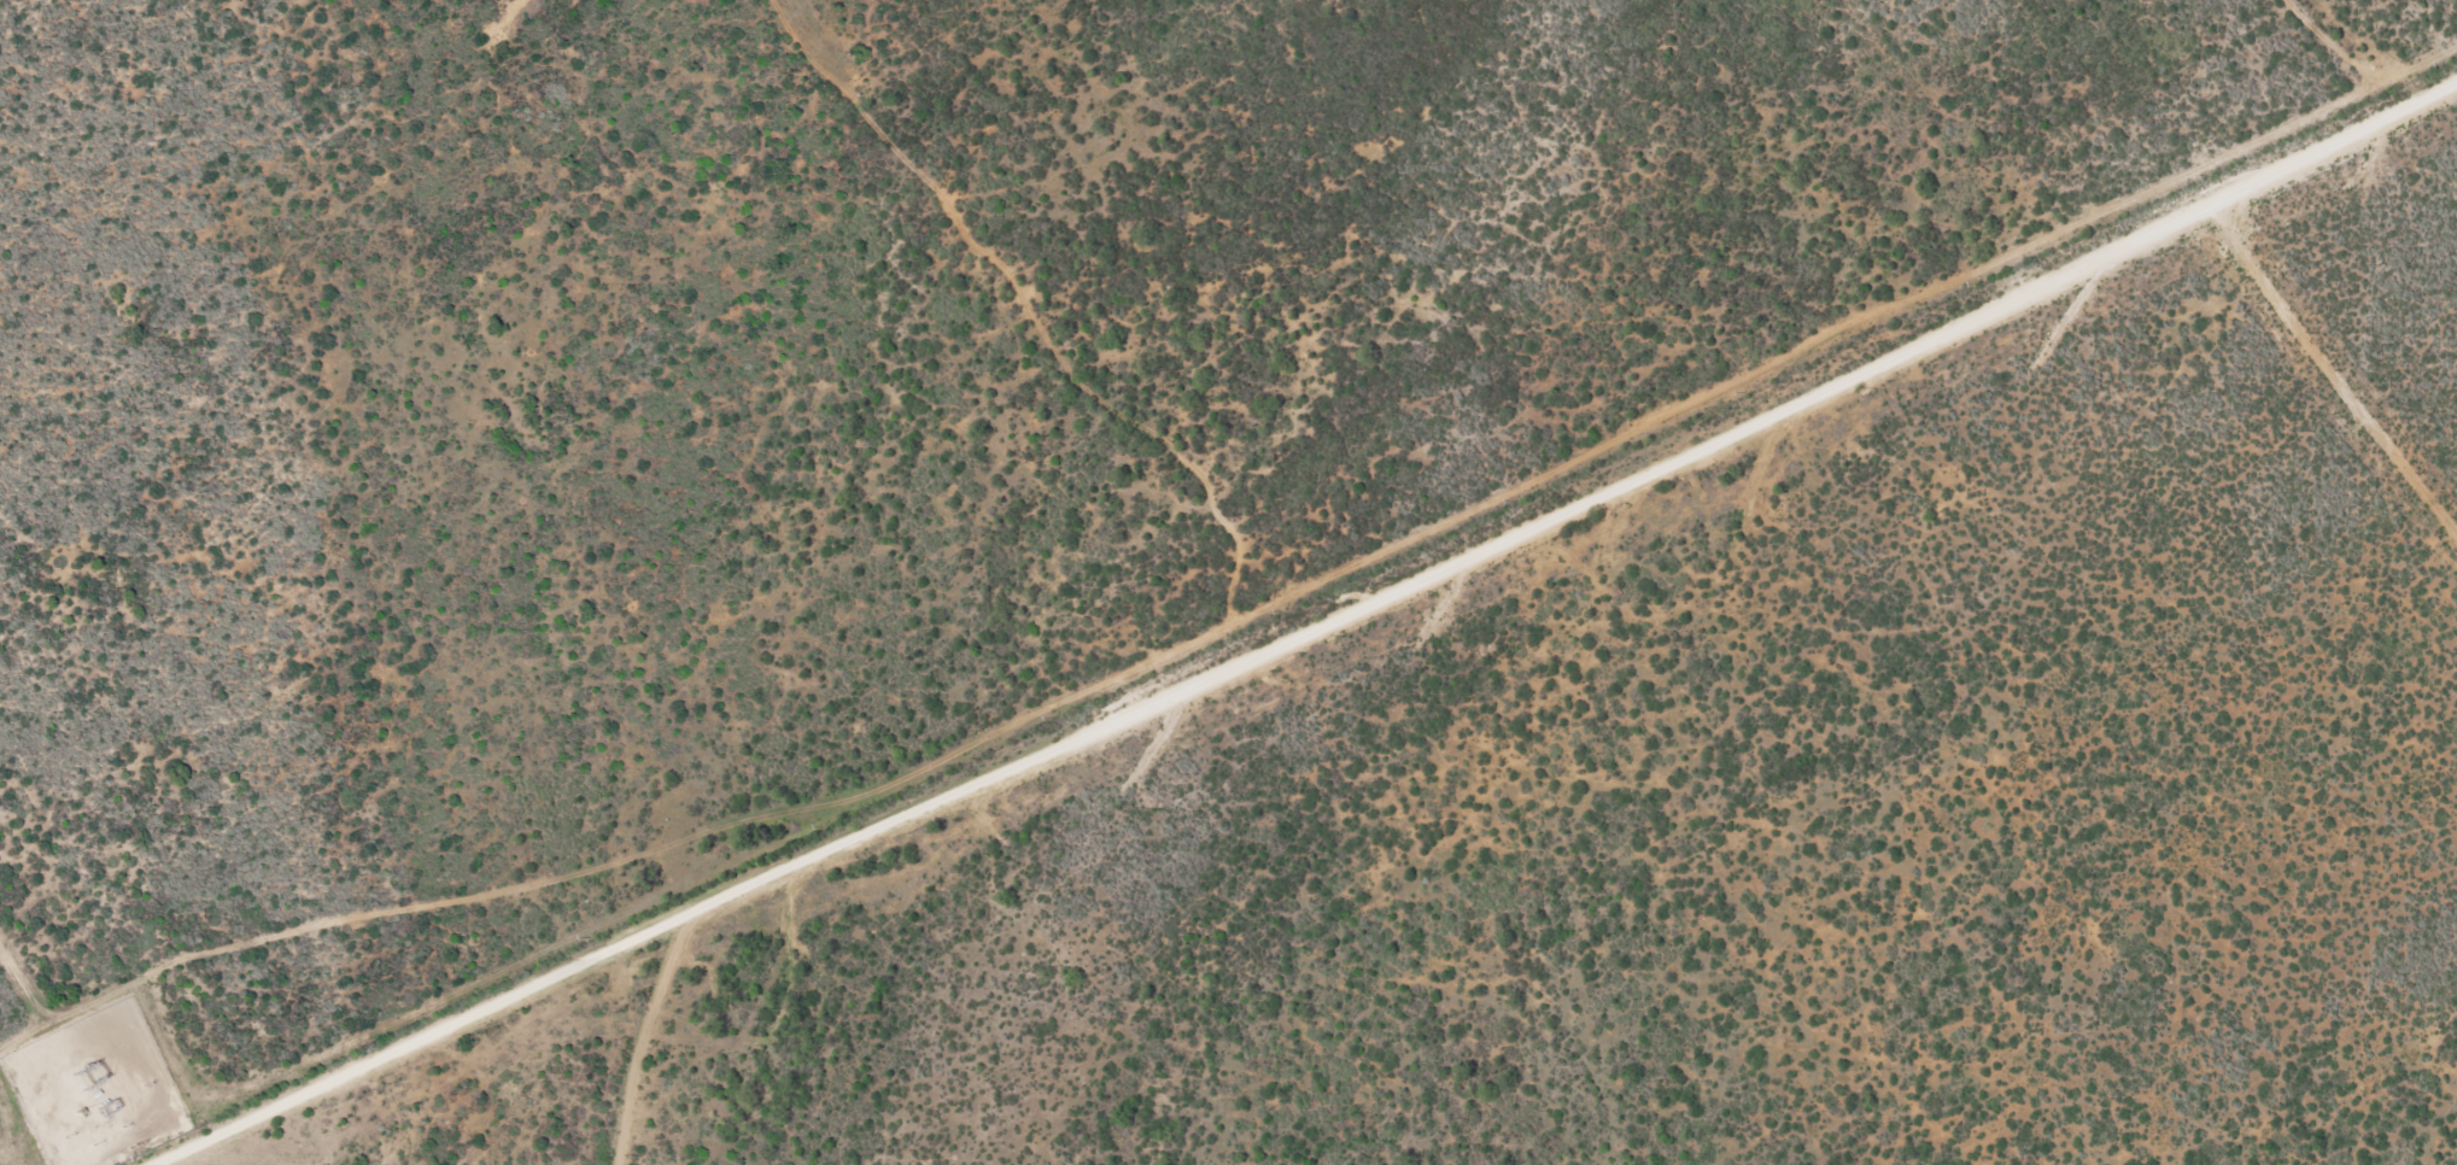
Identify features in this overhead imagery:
road: (2329, 369)
road: (1314, 626)
road: (654, 1030)
power tower: (80, 1070)
power tower: (93, 1087)
power substation: (95, 1088)

